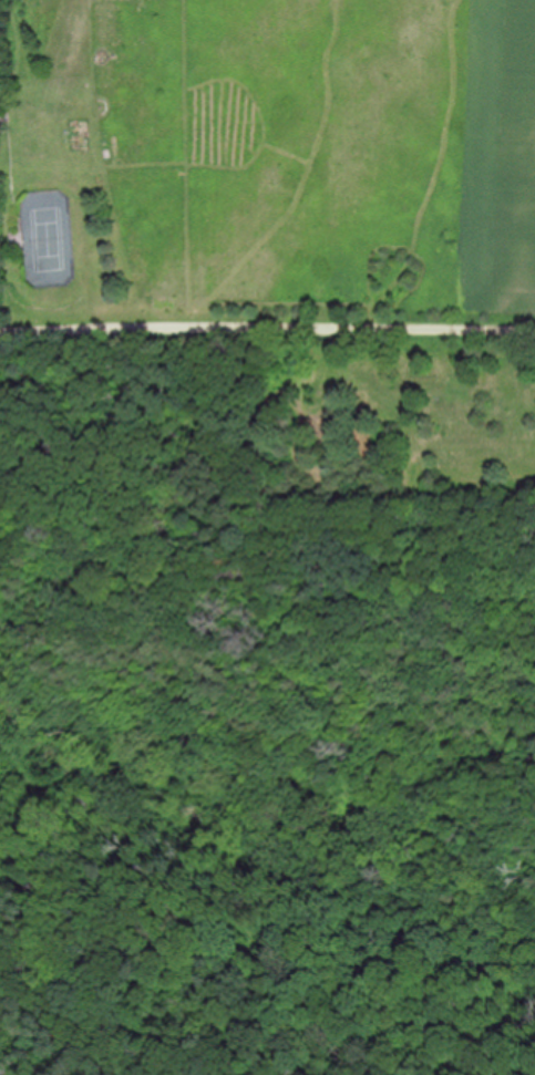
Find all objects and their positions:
crop: (356, 164)
road: (266, 325)

